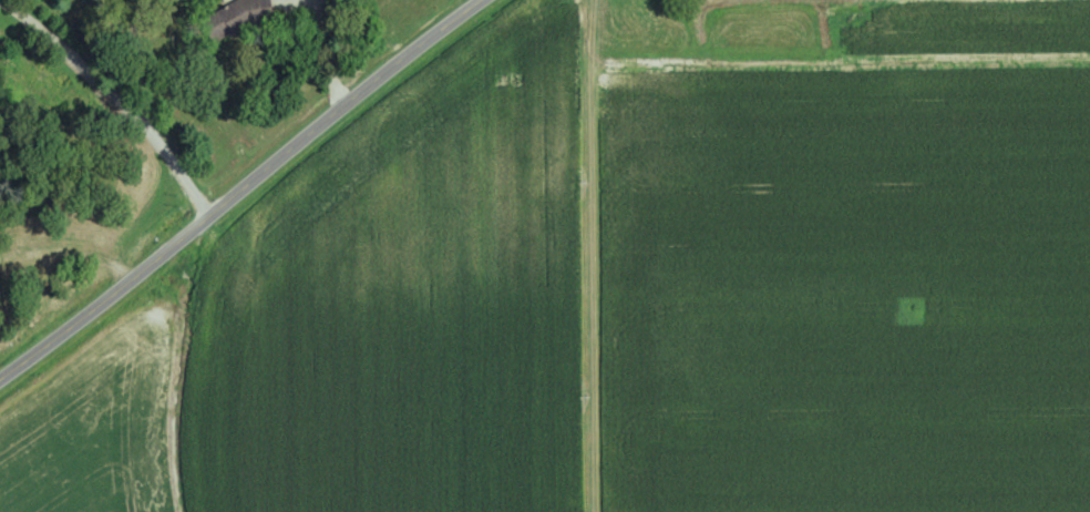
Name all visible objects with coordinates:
building: (235, 17)
road: (241, 190)

